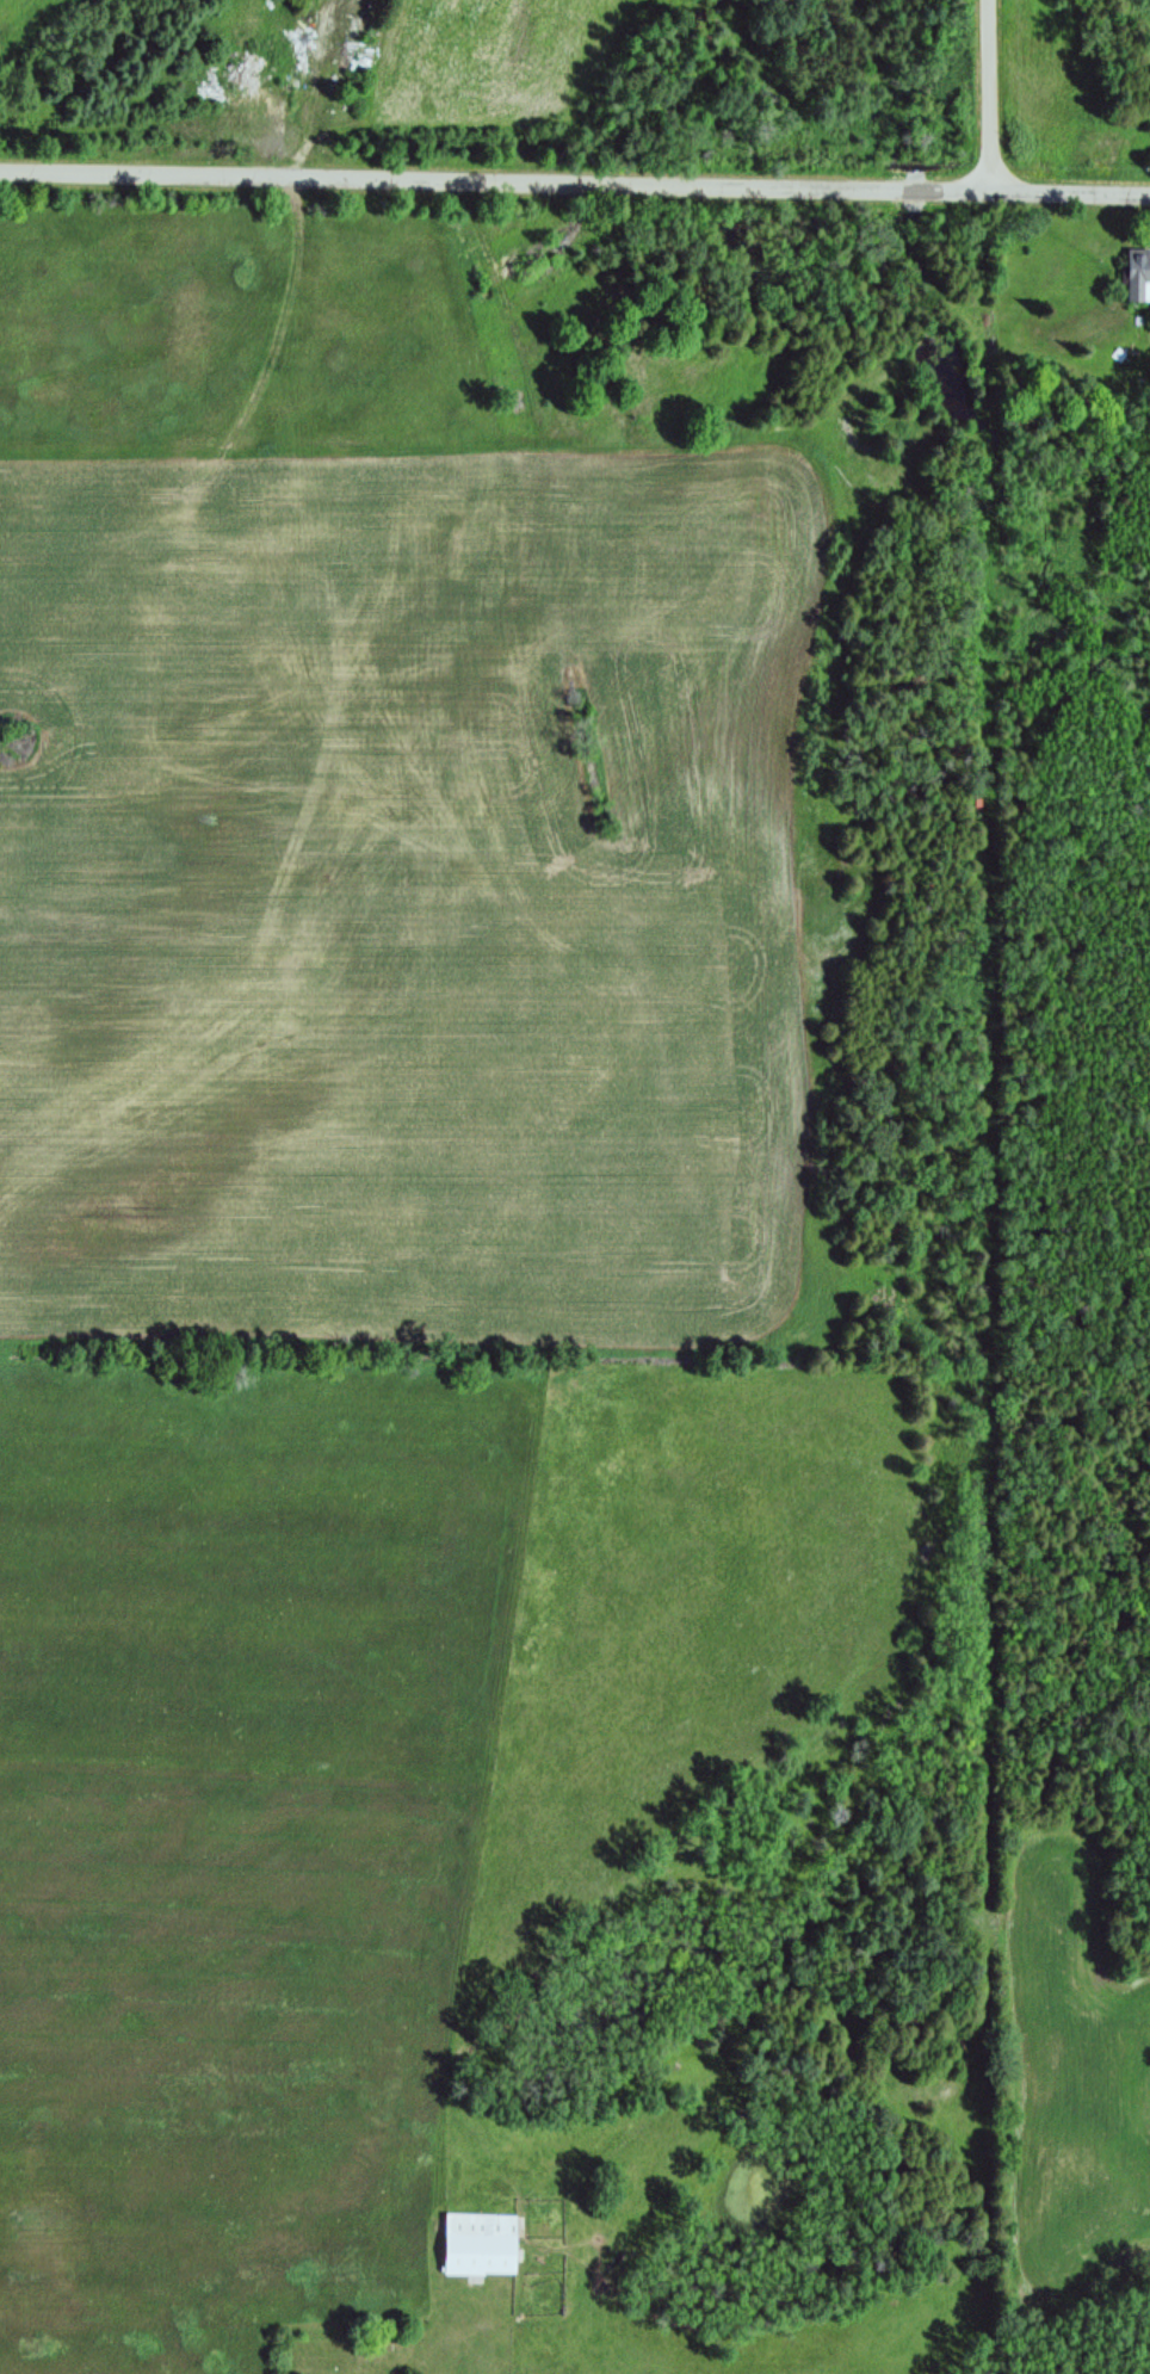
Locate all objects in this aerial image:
road: (991, 97)
road: (575, 184)
building: (1139, 277)
building: (481, 2244)

